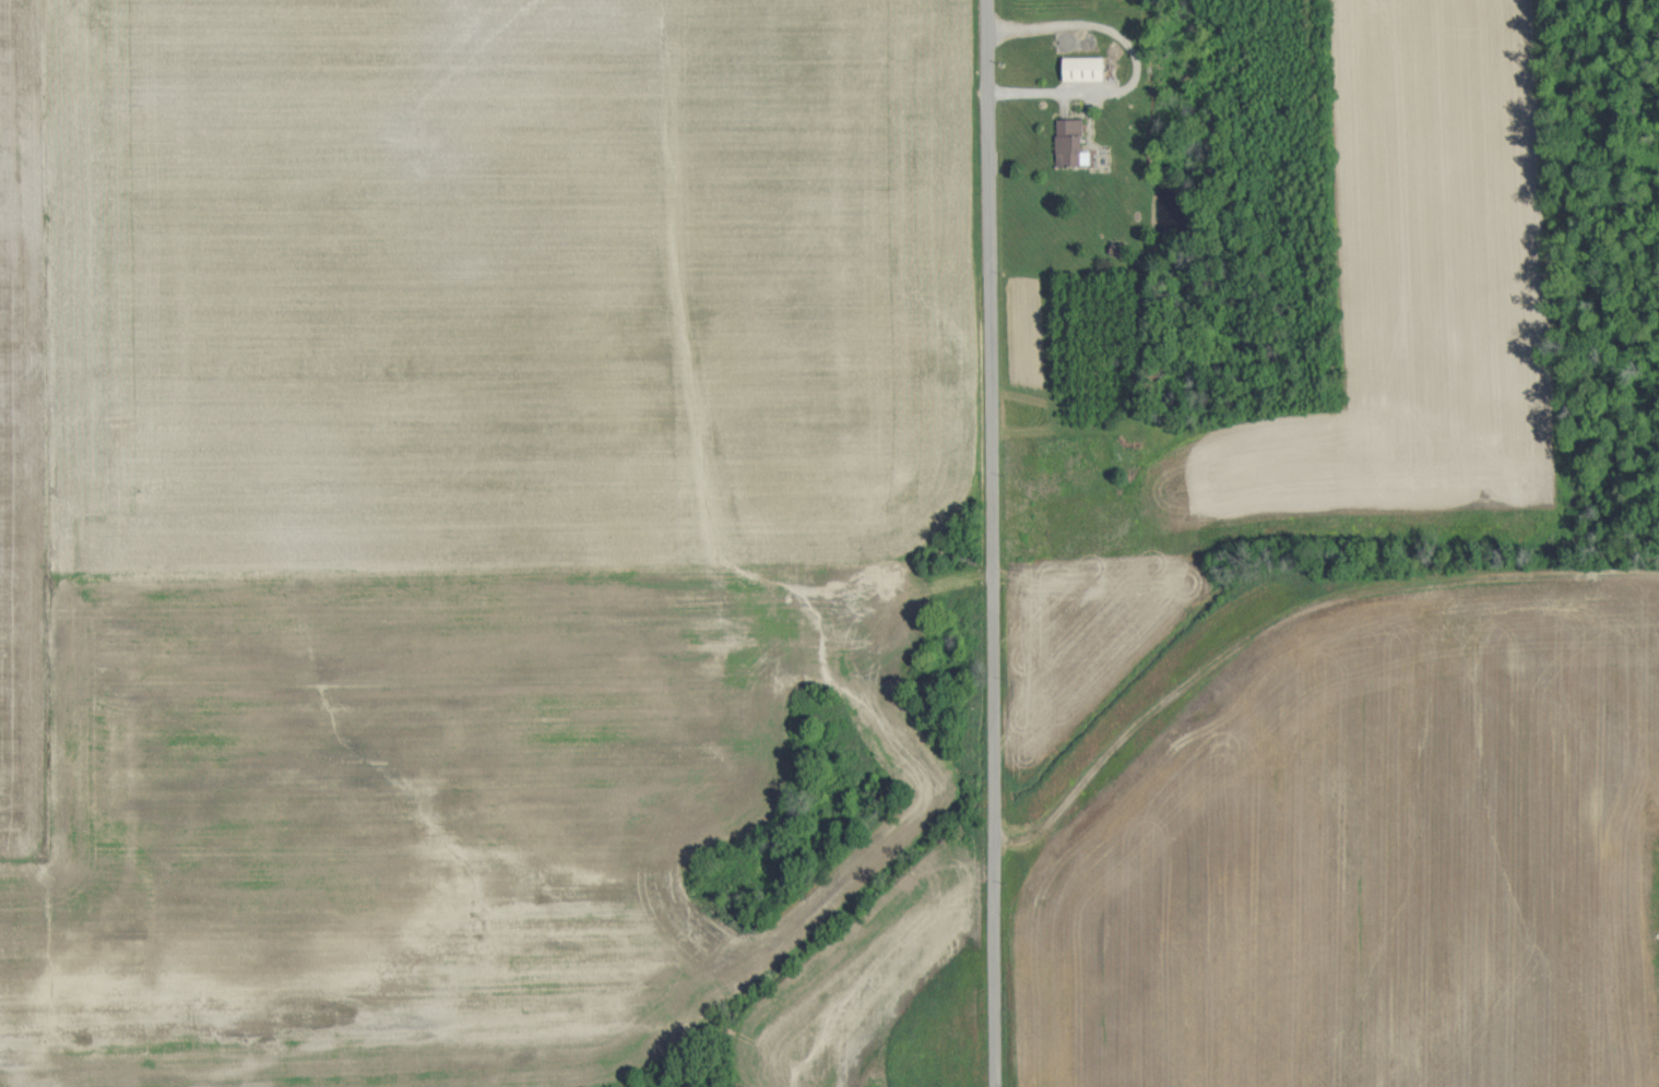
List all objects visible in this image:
road: (1134, 65)
building: (1081, 68)
road: (990, 543)

